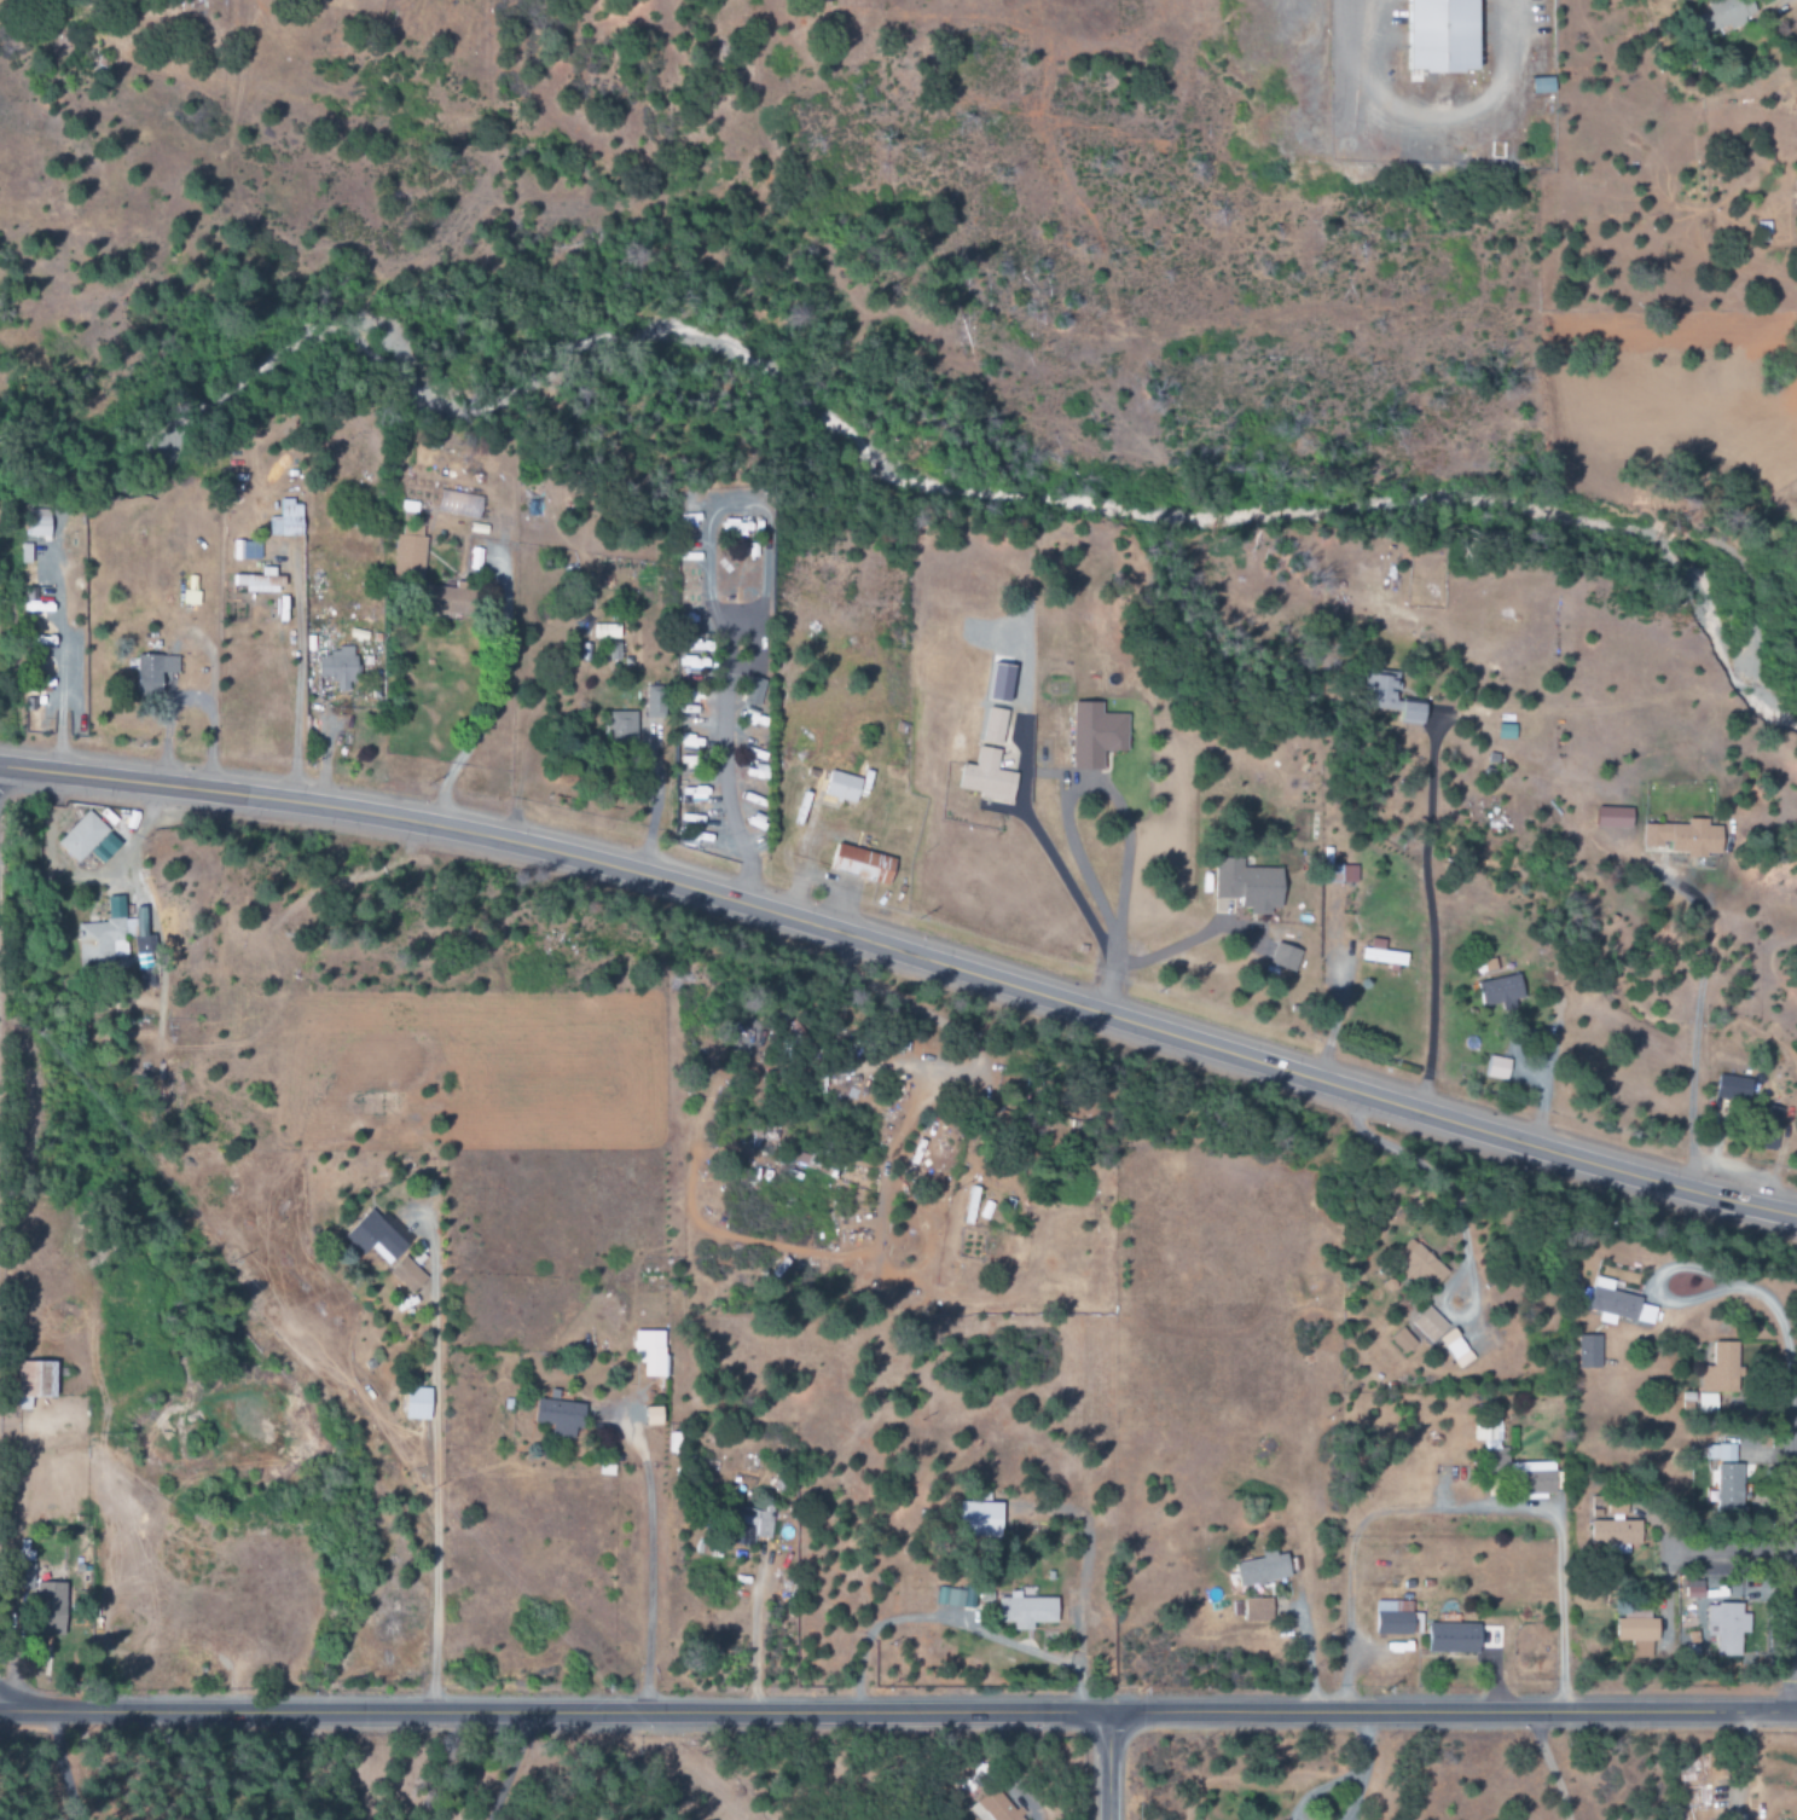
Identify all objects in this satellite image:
building: (1724, 15)
building: (1444, 36)
building: (1543, 86)
building: (459, 504)
building: (286, 521)
building: (39, 524)
building: (245, 550)
building: (411, 550)
building: (260, 582)
building: (444, 601)
building: (607, 631)
building: (338, 667)
building: (153, 672)
building: (1002, 684)
building: (1385, 691)
building: (753, 692)
building: (655, 702)
building: (1413, 713)
building: (622, 725)
building: (1507, 732)
building: (1096, 736)
building: (990, 765)
building: (842, 788)
building: (1615, 818)
building: (82, 836)
building: (1686, 839)
building: (863, 864)
building: (1344, 875)
building: (1248, 886)
building: (116, 944)
building: (1382, 954)
road: (906, 955)
building: (1286, 957)
building: (1501, 991)
building: (1499, 1068)
building: (1733, 1086)
building: (383, 1103)
building: (1769, 1128)
building: (375, 1238)
building: (1421, 1263)
building: (407, 1275)
building: (1618, 1304)
building: (1428, 1325)
building: (1453, 1350)
building: (1589, 1351)
building: (650, 1352)
building: (1722, 1369)
building: (35, 1381)
building: (558, 1418)
building: (1488, 1431)
building: (1726, 1477)
building: (1535, 1479)
building: (980, 1519)
building: (1613, 1524)
building: (752, 1525)
road: (1787, 1557)
building: (1263, 1569)
building: (27, 1577)
road: (1743, 1590)
building: (51, 1610)
building: (1258, 1610)
building: (1027, 1611)
building: (1397, 1618)
building: (1635, 1627)
building: (1727, 1627)
building: (1454, 1638)
road: (898, 1714)
road: (505, 1767)
road: (1106, 1767)
building: (995, 1808)

